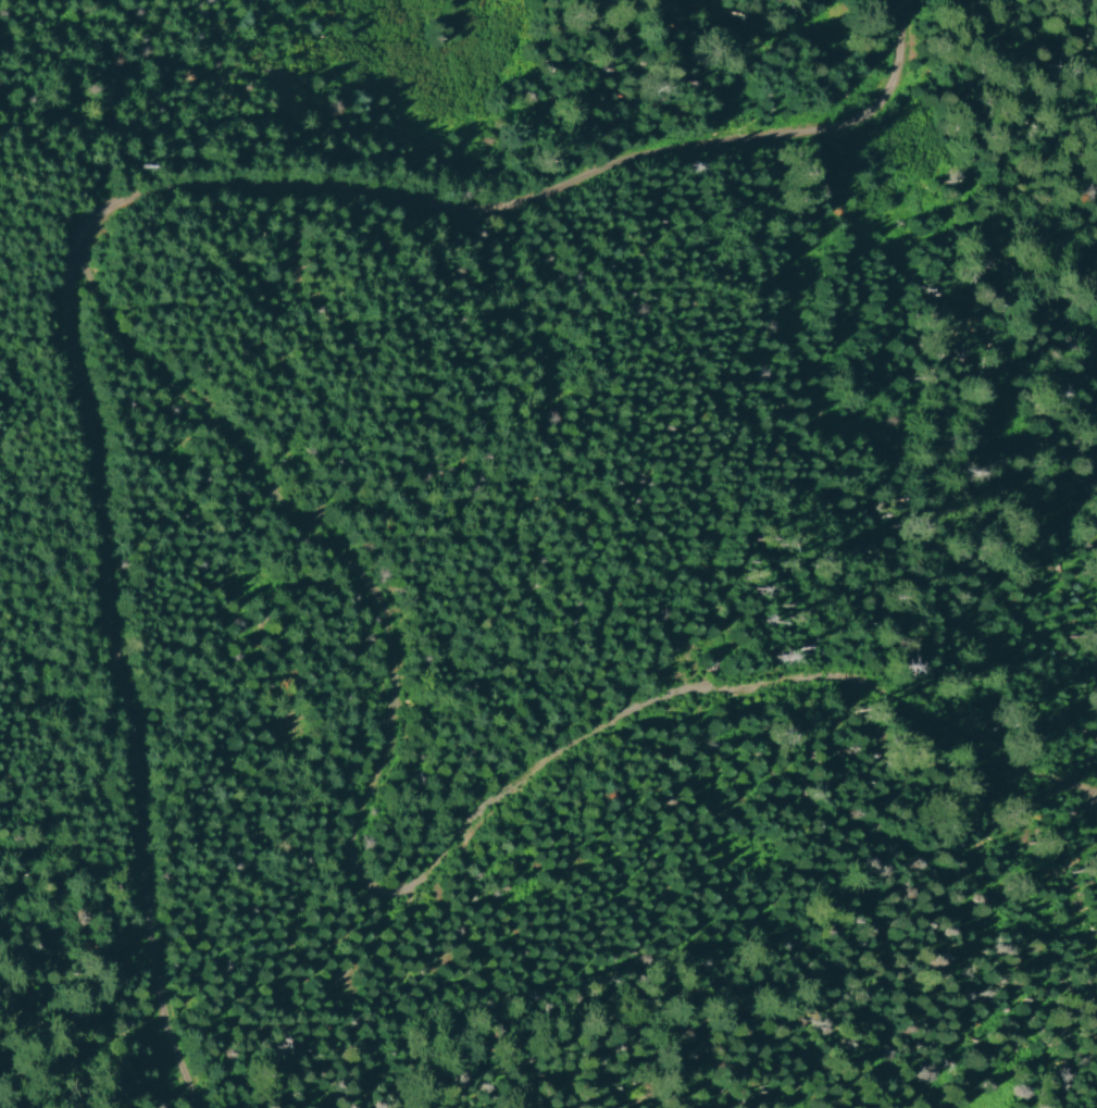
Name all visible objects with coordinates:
road: (94, 215)
road: (145, 369)
road: (486, 805)

